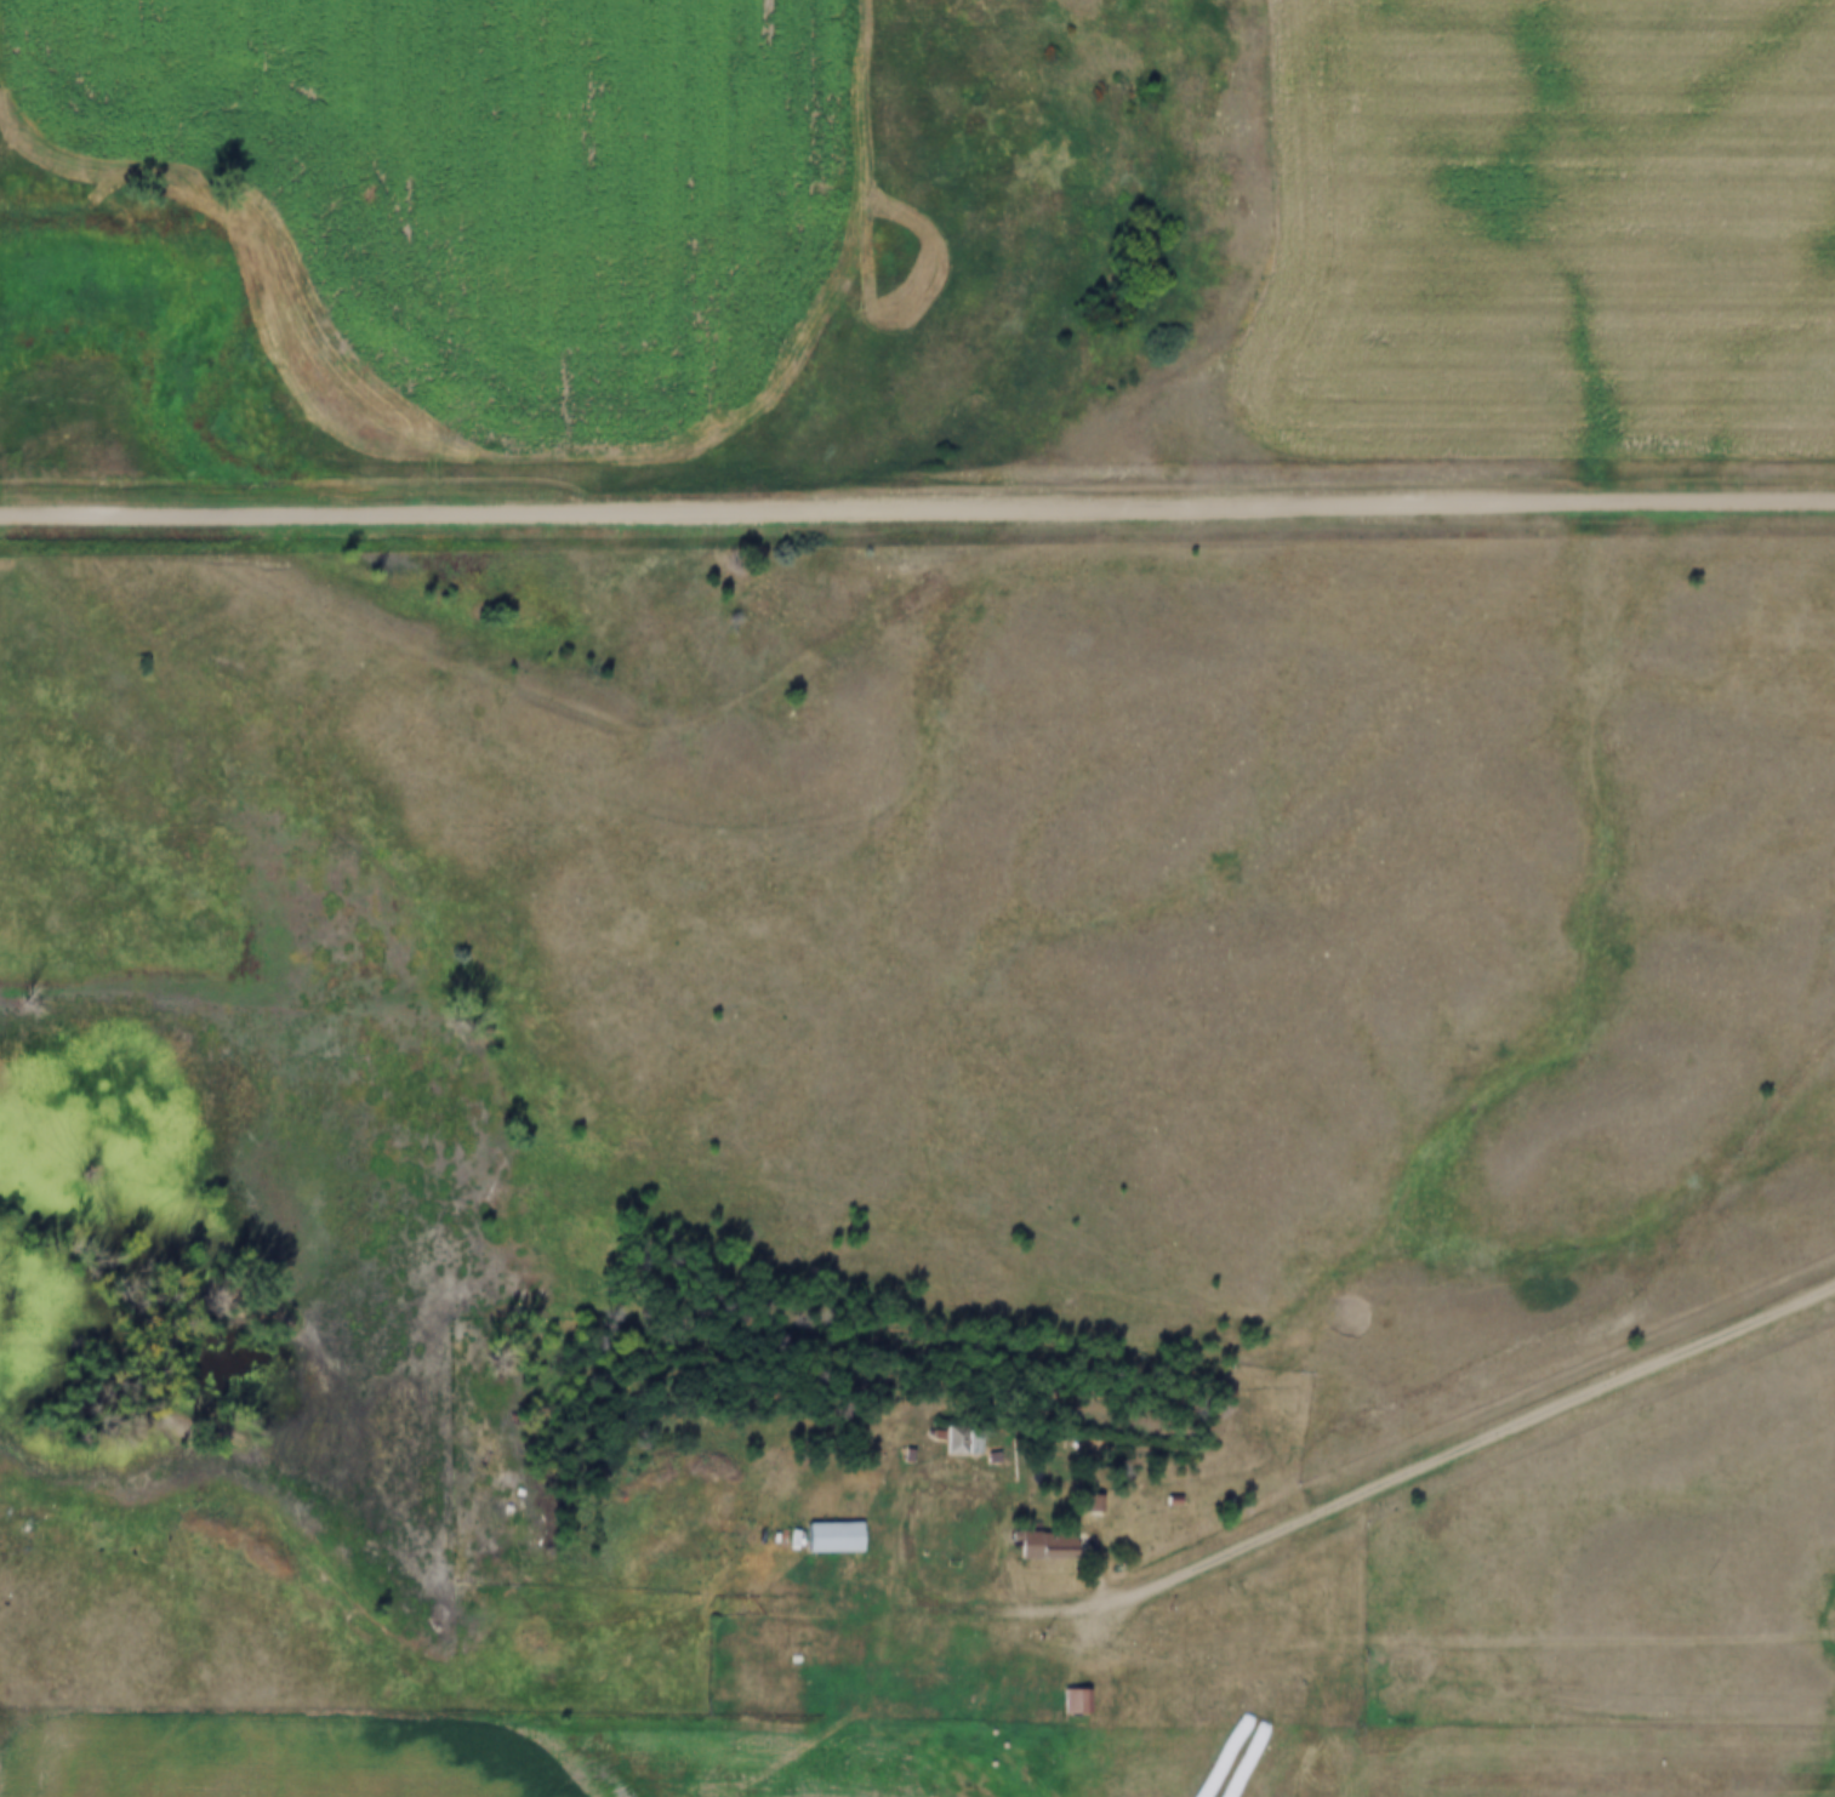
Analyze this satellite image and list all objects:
road: (917, 514)
building: (925, 1436)
building: (942, 1441)
building: (961, 1441)
building: (897, 1456)
road: (1438, 1466)
building: (866, 1477)
road: (917, 1490)
building: (1162, 1501)
building: (1081, 1505)
building: (821, 1539)
building: (991, 1545)
building: (1033, 1546)
building: (857, 1632)
road: (1470, 1638)
building: (802, 1660)
building: (1064, 1705)
road: (918, 1728)
road: (1184, 1770)

